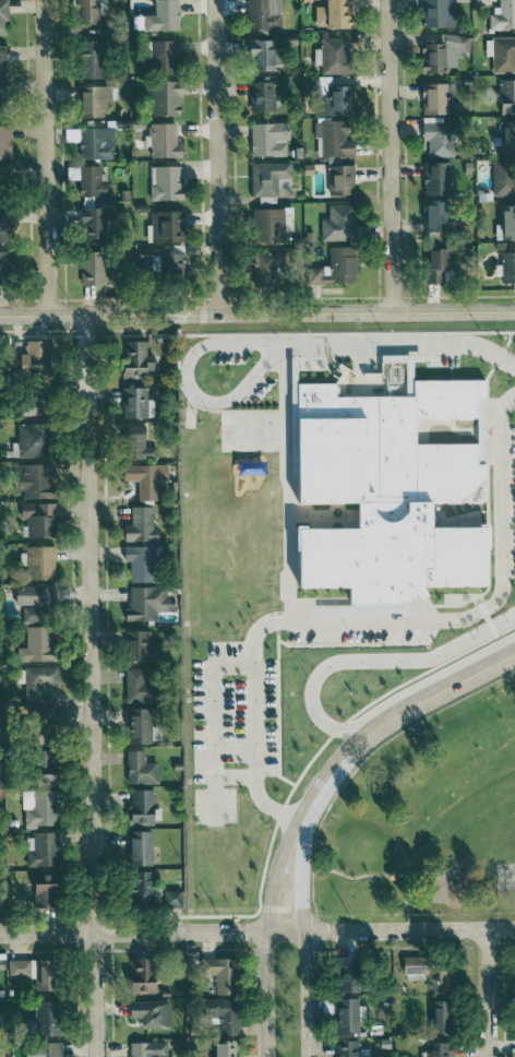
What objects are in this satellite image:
building: (478, 1)
building: (83, 11)
building: (260, 14)
building: (328, 14)
building: (502, 14)
building: (160, 16)
building: (3, 17)
building: (440, 52)
building: (257, 55)
building: (502, 55)
building: (158, 56)
building: (331, 56)
building: (85, 59)
building: (5, 60)
building: (5, 96)
building: (259, 96)
building: (504, 96)
building: (161, 98)
building: (431, 98)
building: (91, 100)
building: (333, 100)
building: (431, 134)
building: (504, 138)
building: (265, 139)
building: (330, 139)
building: (160, 141)
building: (5, 142)
building: (93, 143)
road: (391, 156)
road: (45, 157)
road: (216, 157)
building: (5, 177)
building: (265, 177)
building: (433, 178)
building: (502, 178)
building: (337, 181)
building: (89, 182)
building: (161, 182)
building: (429, 216)
building: (285, 218)
building: (89, 221)
building: (505, 222)
building: (334, 223)
building: (7, 225)
building: (264, 225)
building: (163, 226)
building: (137, 257)
building: (168, 265)
building: (430, 265)
building: (506, 266)
building: (5, 268)
building: (332, 268)
building: (94, 269)
building: (259, 270)
road: (257, 314)
road: (400, 347)
building: (38, 356)
building: (139, 359)
road: (188, 389)
building: (137, 402)
building: (33, 439)
building: (139, 442)
building: (146, 477)
building: (37, 480)
road: (283, 487)
building: (383, 492)
building: (40, 518)
building: (142, 524)
building: (41, 561)
building: (144, 562)
building: (148, 602)
building: (35, 603)
road: (376, 626)
building: (38, 644)
building: (139, 644)
road: (376, 666)
building: (38, 682)
building: (140, 685)
road: (91, 686)
road: (399, 714)
building: (144, 726)
building: (141, 768)
building: (143, 806)
building: (40, 808)
park: (429, 819)
building: (141, 847)
building: (44, 850)
road: (376, 875)
park: (505, 876)
building: (49, 884)
building: (144, 888)
building: (173, 898)
building: (3, 902)
road: (406, 902)
road: (267, 925)
road: (306, 929)
road: (410, 929)
road: (153, 931)
building: (20, 967)
building: (433, 972)
building: (49, 974)
building: (218, 974)
building: (352, 974)
building: (146, 975)
road: (488, 993)
building: (153, 1013)
building: (225, 1013)
building: (350, 1013)
building: (444, 1017)
building: (49, 1018)
building: (350, 1048)
building: (47, 1049)
building: (149, 1049)
building: (227, 1049)
building: (441, 1049)

